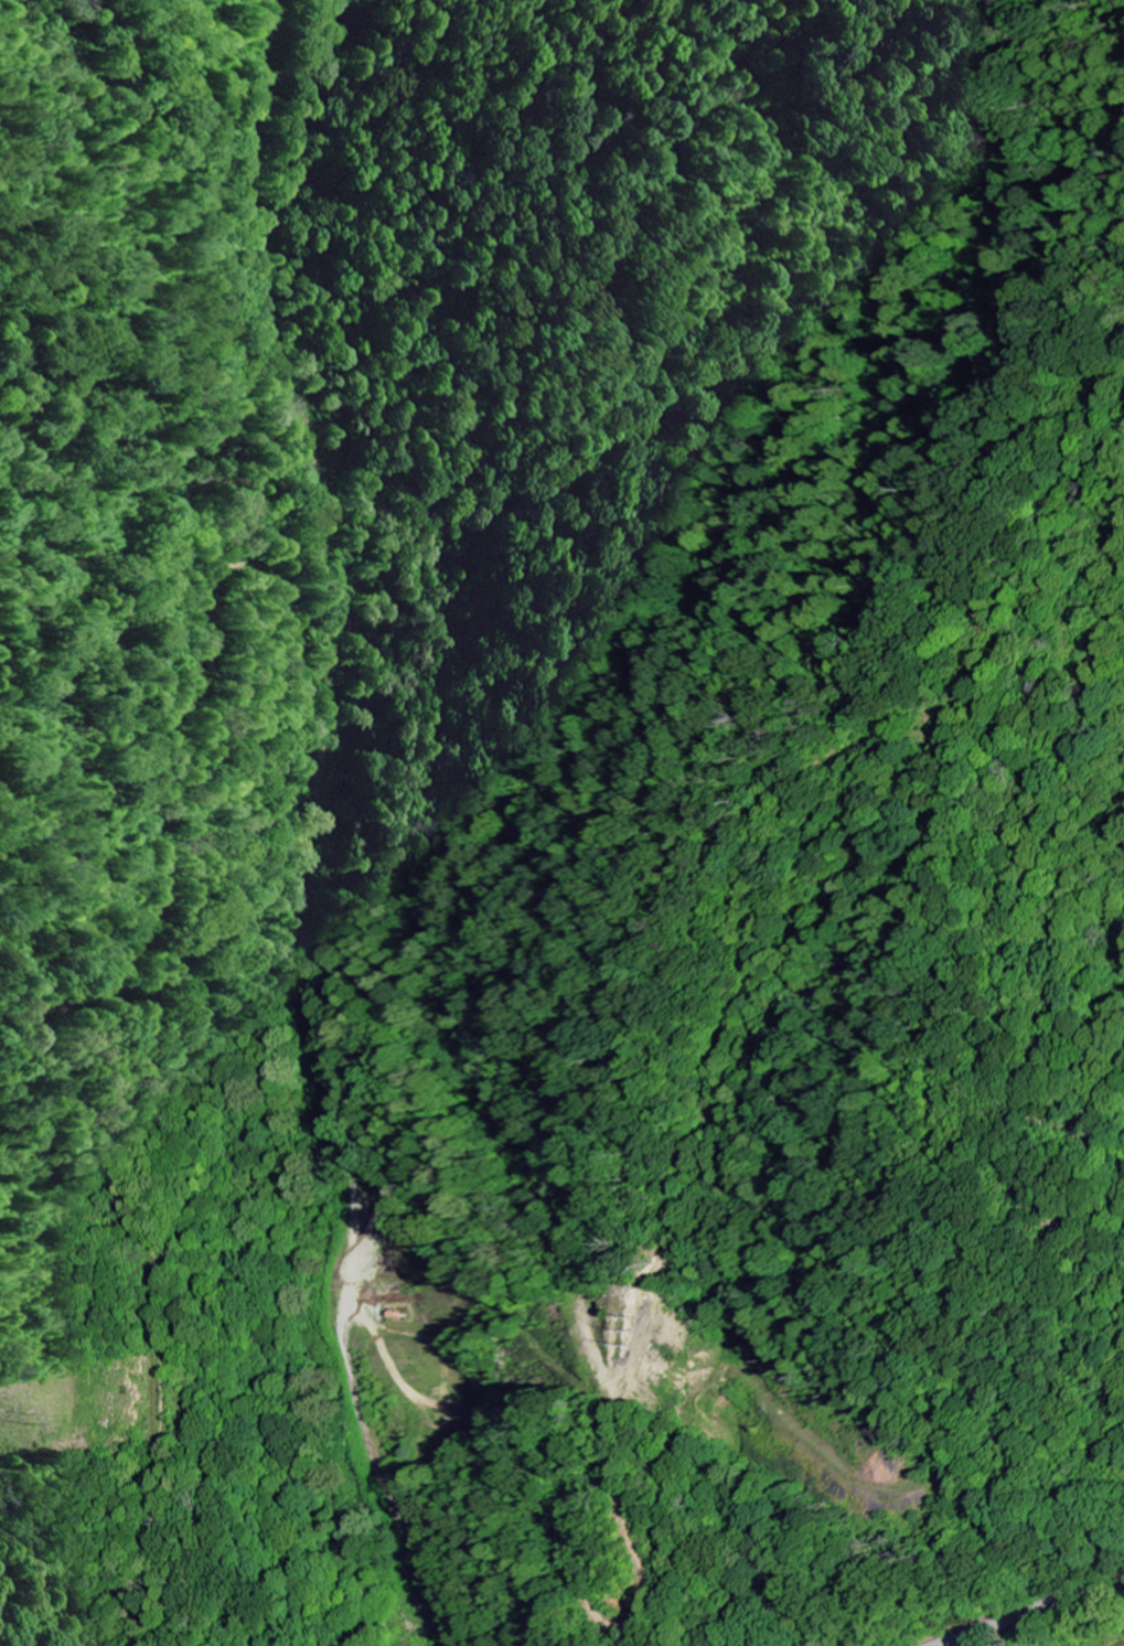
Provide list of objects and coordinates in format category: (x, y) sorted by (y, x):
road: (1029, 1611)

